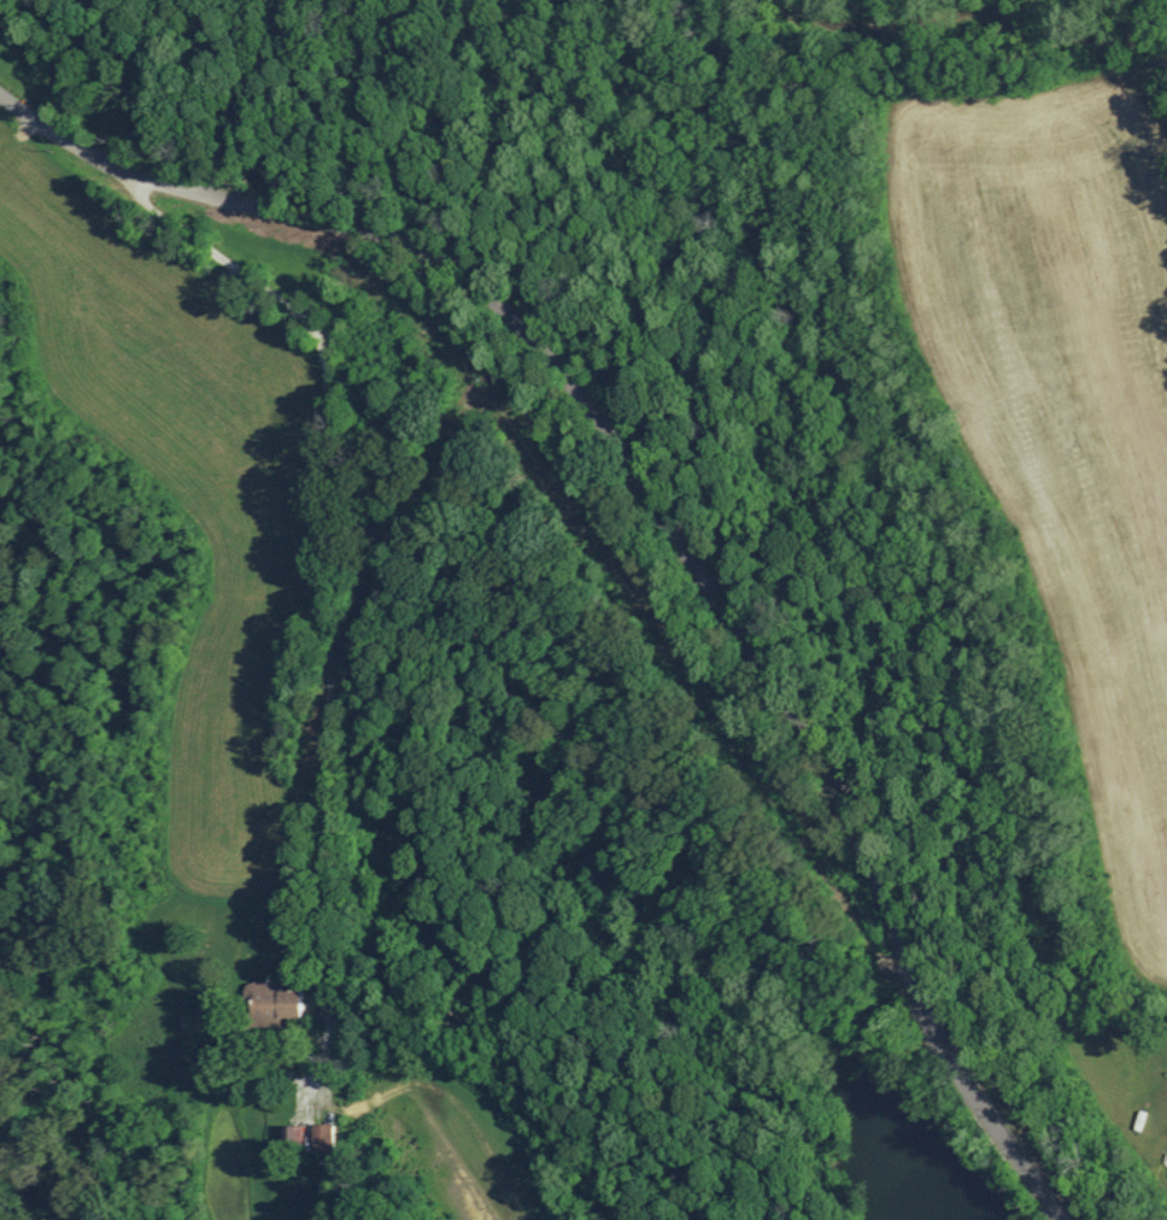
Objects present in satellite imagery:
road: (658, 514)
road: (328, 588)
building: (274, 1002)
building: (291, 1133)
building: (322, 1136)
road: (1162, 1139)
road: (245, 1150)
road: (352, 1163)

